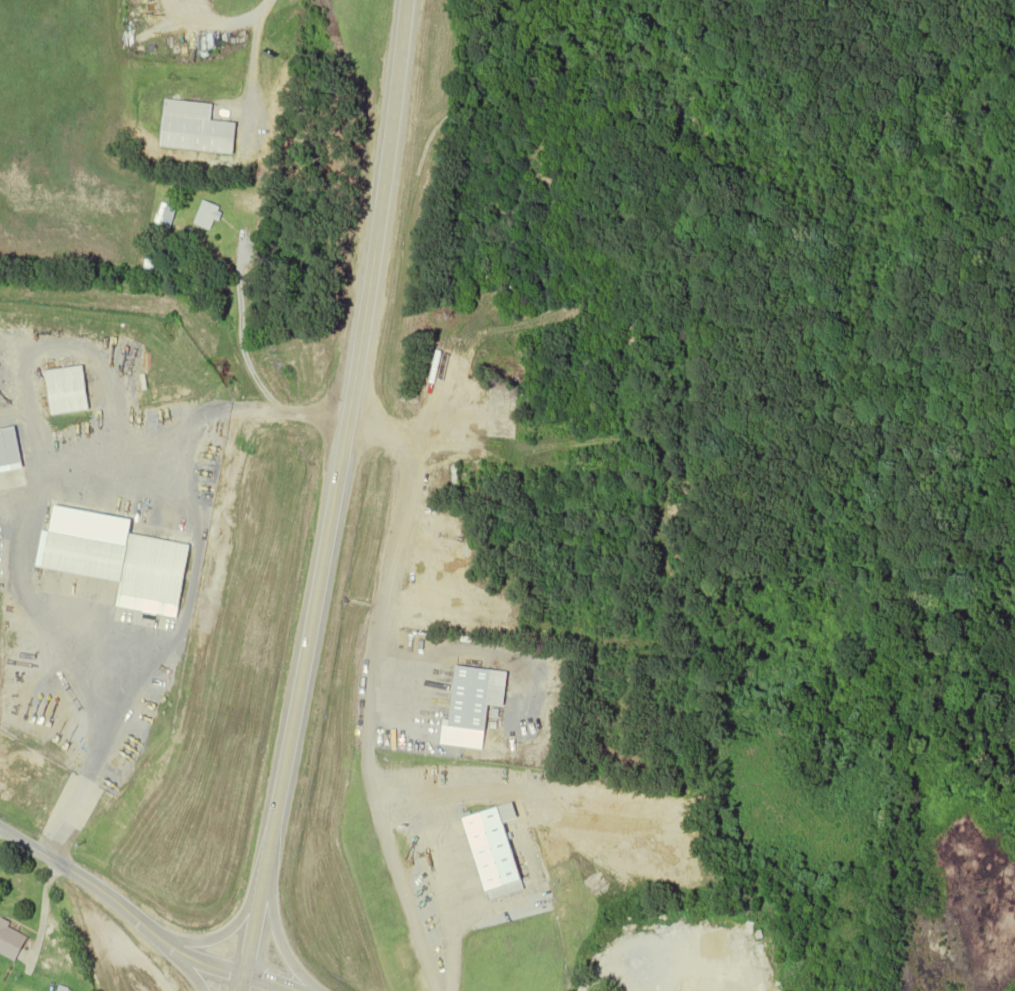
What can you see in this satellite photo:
building: (194, 128)
building: (207, 215)
building: (166, 216)
road: (236, 243)
building: (68, 391)
building: (9, 448)
road: (330, 496)
building: (468, 529)
building: (125, 564)
building: (551, 584)
building: (476, 696)
road: (101, 746)
building: (496, 849)
road: (120, 905)
road: (230, 925)
road: (277, 933)
building: (11, 940)
road: (185, 965)
building: (730, 977)
road: (271, 981)

